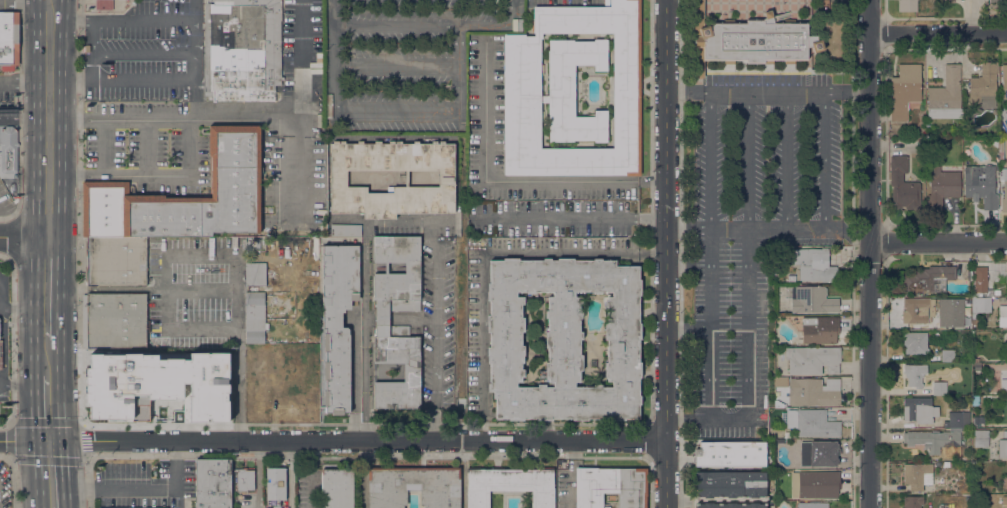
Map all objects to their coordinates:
building: (946, 1)
building: (996, 1)
road: (32, 2)
building: (104, 5)
building: (907, 5)
road: (884, 10)
road: (515, 14)
road: (145, 21)
road: (65, 22)
road: (482, 24)
road: (396, 25)
road: (333, 33)
road: (884, 33)
road: (938, 34)
building: (698, 39)
building: (9, 41)
building: (758, 41)
road: (459, 45)
building: (242, 49)
road: (94, 51)
road: (145, 53)
road: (196, 59)
road: (303, 65)
road: (396, 66)
road: (145, 80)
road: (65, 81)
building: (1004, 81)
building: (983, 83)
road: (18, 84)
road: (458, 84)
building: (522, 85)
road: (61, 87)
road: (37, 88)
road: (746, 89)
road: (848, 89)
building: (573, 90)
building: (904, 91)
building: (946, 95)
building: (543, 98)
road: (377, 105)
road: (485, 110)
road: (246, 117)
road: (30, 118)
road: (82, 119)
road: (885, 136)
road: (103, 146)
road: (148, 146)
building: (8, 150)
road: (712, 160)
road: (785, 160)
road: (827, 160)
road: (82, 174)
road: (174, 174)
road: (48, 176)
building: (235, 176)
building: (338, 178)
road: (561, 180)
road: (650, 181)
building: (903, 185)
building: (980, 185)
building: (942, 187)
building: (1004, 192)
road: (747, 193)
road: (36, 206)
road: (60, 206)
road: (555, 220)
road: (390, 221)
road: (650, 221)
parking lot: (759, 224)
building: (346, 230)
road: (764, 232)
road: (17, 236)
road: (47, 236)
road: (884, 242)
road: (938, 242)
building: (257, 244)
road: (652, 253)
road: (664, 253)
railway: (48, 254)
road: (199, 254)
road: (561, 254)
road: (869, 254)
building: (115, 261)
road: (721, 264)
building: (814, 265)
building: (1006, 266)
building: (255, 274)
building: (791, 278)
building: (928, 279)
building: (979, 281)
road: (60, 288)
road: (163, 291)
road: (200, 292)
road: (2, 293)
road: (727, 298)
building: (813, 301)
building: (981, 305)
road: (33, 306)
road: (2, 308)
building: (917, 309)
road: (436, 315)
building: (1002, 316)
building: (254, 317)
building: (382, 318)
building: (114, 320)
building: (943, 320)
building: (337, 322)
road: (201, 329)
building: (820, 330)
road: (367, 331)
building: (1006, 336)
road: (482, 339)
building: (563, 339)
road: (4, 342)
building: (915, 342)
road: (237, 348)
road: (711, 351)
building: (1, 354)
building: (227, 354)
building: (253, 356)
building: (947, 356)
road: (757, 359)
building: (812, 360)
building: (592, 362)
road: (59, 366)
road: (152, 366)
building: (914, 375)
road: (354, 380)
road: (2, 381)
road: (885, 383)
building: (263, 384)
building: (171, 385)
building: (1004, 385)
road: (131, 386)
building: (939, 388)
road: (60, 390)
building: (813, 392)
building: (997, 400)
road: (164, 405)
road: (34, 409)
building: (919, 410)
building: (957, 420)
building: (979, 420)
road: (710, 421)
road: (205, 423)
building: (811, 423)
road: (82, 424)
road: (437, 425)
road: (483, 433)
building: (1005, 434)
building: (980, 438)
building: (933, 439)
road: (17, 441)
traffic signals: (36, 441)
road: (49, 441)
traffic signals: (63, 441)
road: (363, 442)
building: (1002, 448)
building: (730, 453)
building: (815, 453)
road: (36, 474)
road: (64, 474)
road: (310, 474)
building: (915, 475)
building: (244, 479)
building: (212, 483)
building: (275, 483)
building: (815, 484)
building: (510, 485)
building: (413, 486)
building: (611, 486)
building: (336, 488)
road: (570, 489)
building: (730, 490)
road: (144, 493)
building: (1004, 500)
building: (912, 501)
building: (813, 505)
building: (276, 506)
building: (125, 507)

